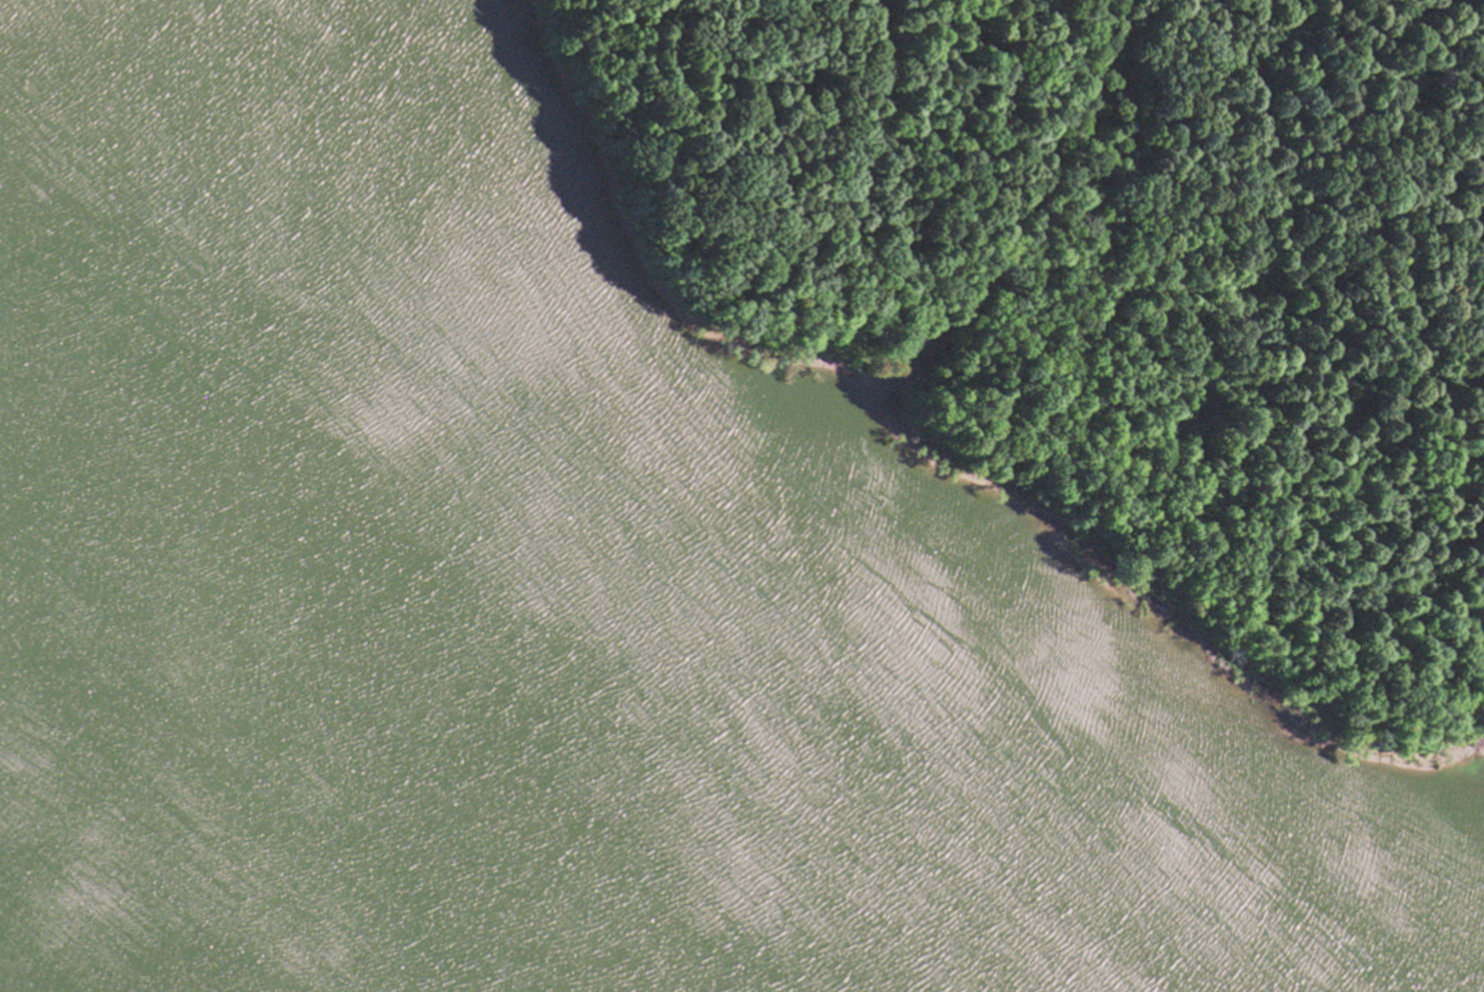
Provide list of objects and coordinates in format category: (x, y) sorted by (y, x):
river: (392, 513)

